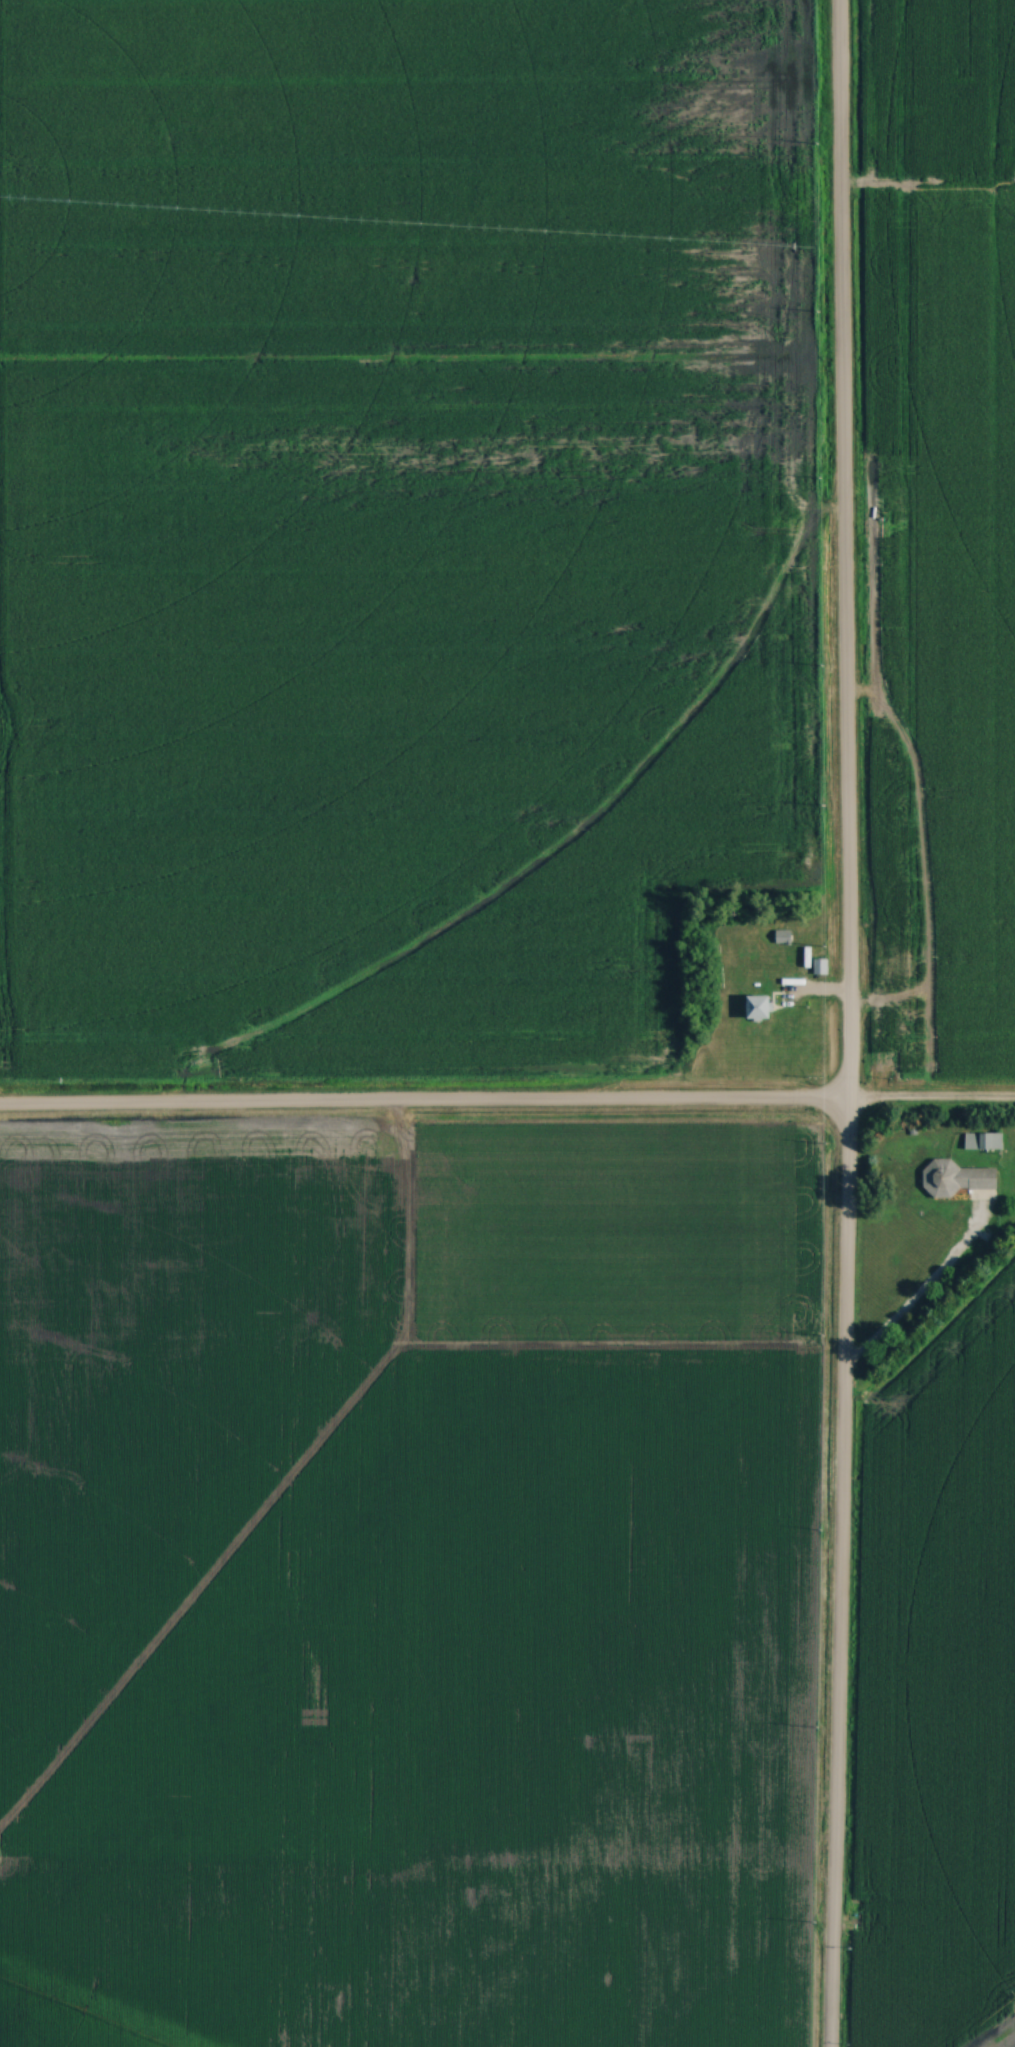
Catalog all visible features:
building: (782, 937)
building: (820, 966)
building: (759, 1007)
road: (846, 1023)
road: (507, 1100)
building: (983, 1141)
building: (959, 1179)
road: (920, 1292)

